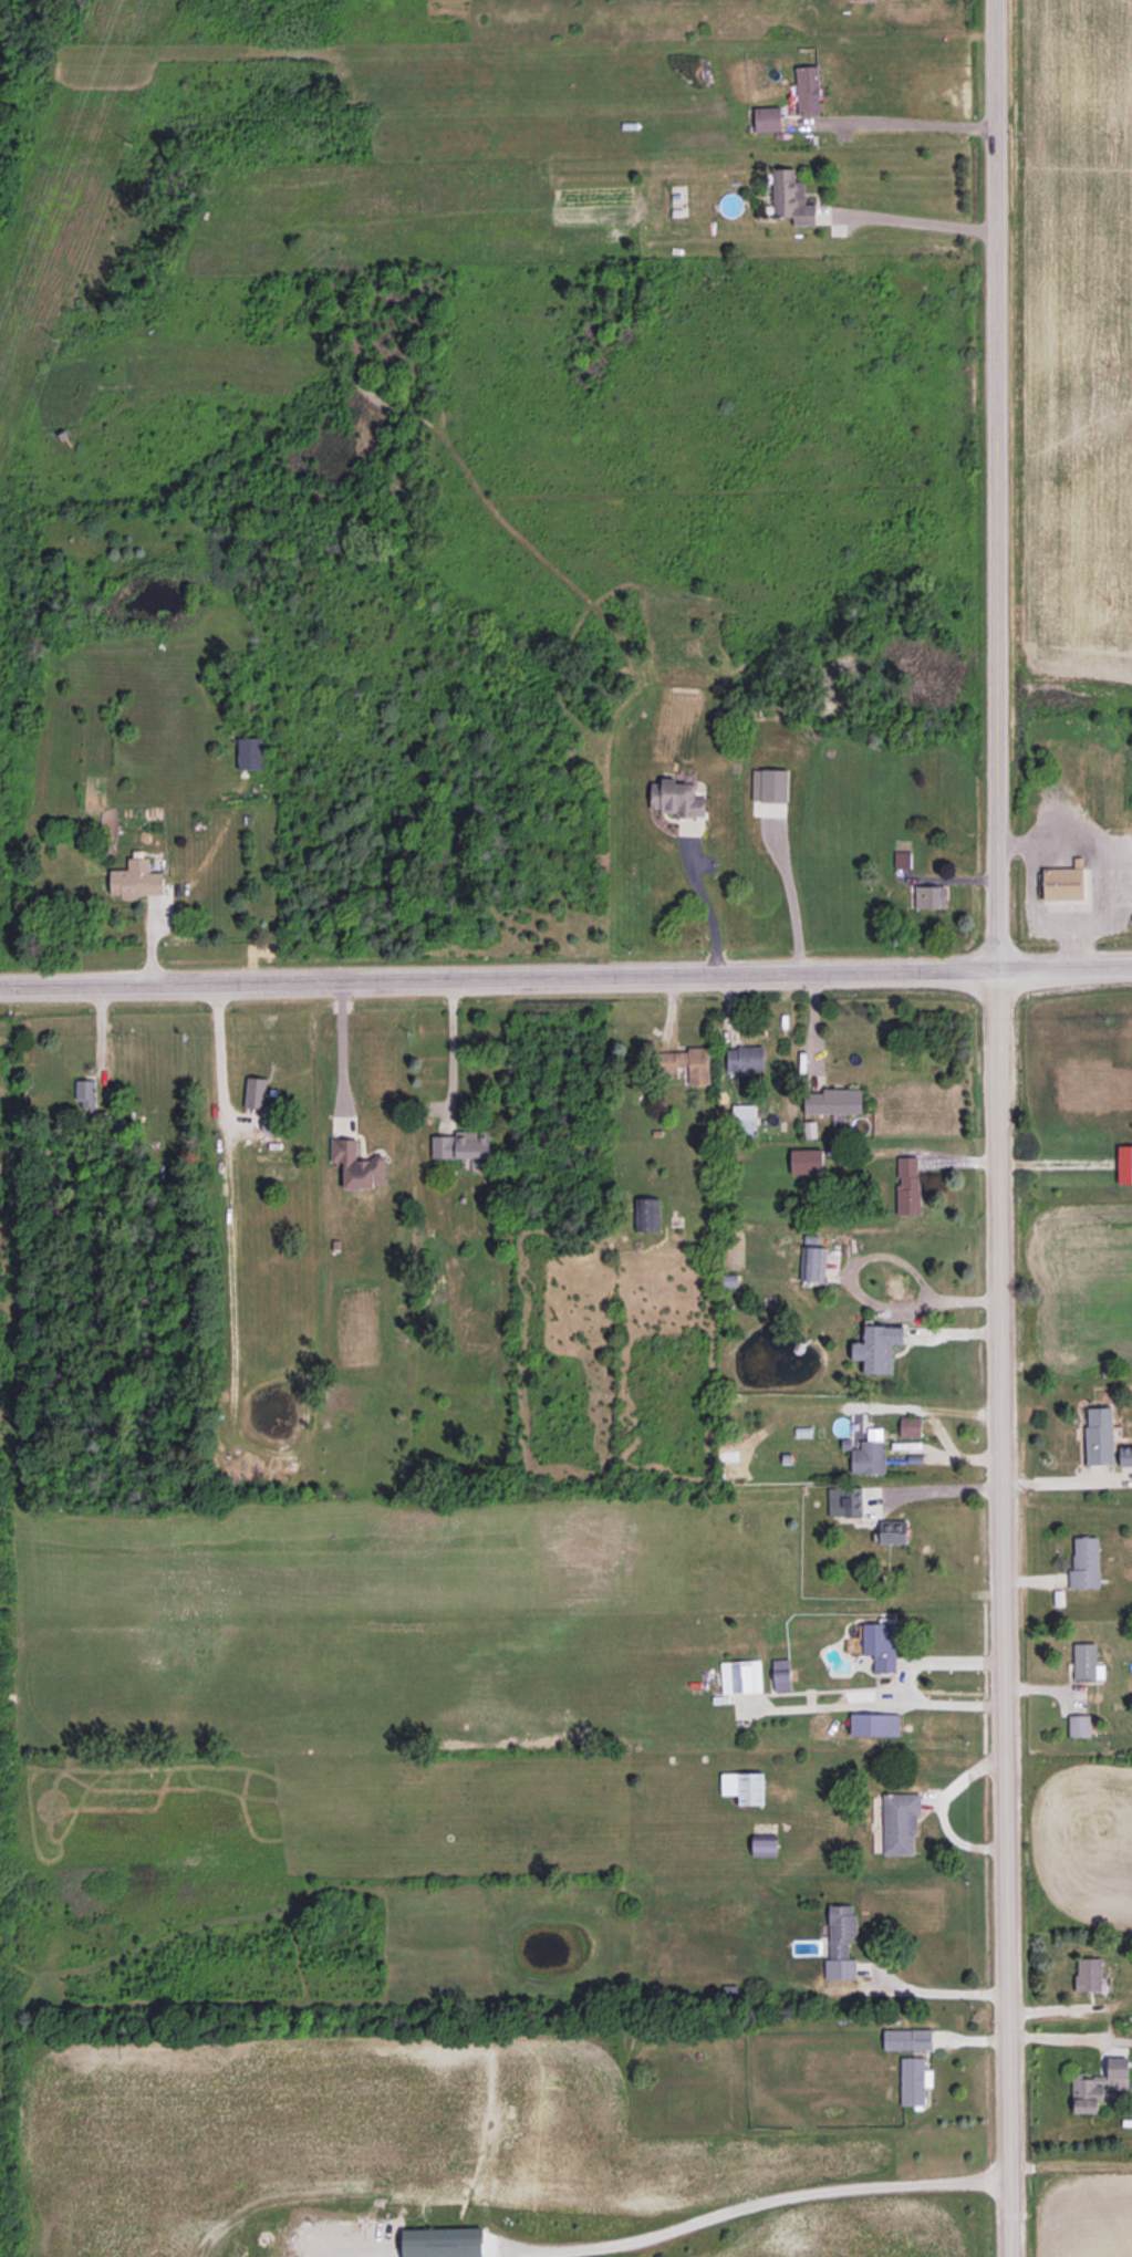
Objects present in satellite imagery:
building: (808, 90)
building: (768, 118)
road: (905, 122)
building: (791, 197)
road: (910, 227)
building: (250, 752)
building: (770, 784)
building: (677, 798)
building: (136, 878)
building: (1055, 883)
building: (927, 896)
road: (791, 901)
road: (707, 911)
road: (1034, 916)
road: (1074, 944)
road: (565, 974)
road: (814, 1027)
road: (449, 1044)
road: (340, 1049)
road: (216, 1055)
building: (745, 1058)
building: (690, 1062)
building: (86, 1092)
building: (256, 1092)
building: (833, 1101)
building: (744, 1116)
road: (998, 1128)
building: (461, 1144)
building: (806, 1161)
building: (356, 1164)
building: (907, 1184)
building: (647, 1214)
building: (813, 1263)
road: (861, 1296)
building: (879, 1346)
building: (911, 1426)
building: (1099, 1435)
building: (870, 1453)
building: (1125, 1455)
road: (1067, 1480)
road: (943, 1489)
building: (844, 1500)
building: (893, 1531)
building: (1086, 1562)
building: (880, 1644)
building: (781, 1674)
building: (740, 1676)
road: (903, 1679)
building: (874, 1724)
building: (744, 1786)
road: (941, 1809)
building: (901, 1821)
building: (764, 1844)
building: (841, 1942)
building: (1089, 1974)
road: (937, 1991)
building: (907, 2038)
building: (914, 2080)
building: (1098, 2086)
road: (1069, 2166)
road: (760, 2201)
building: (443, 2242)

